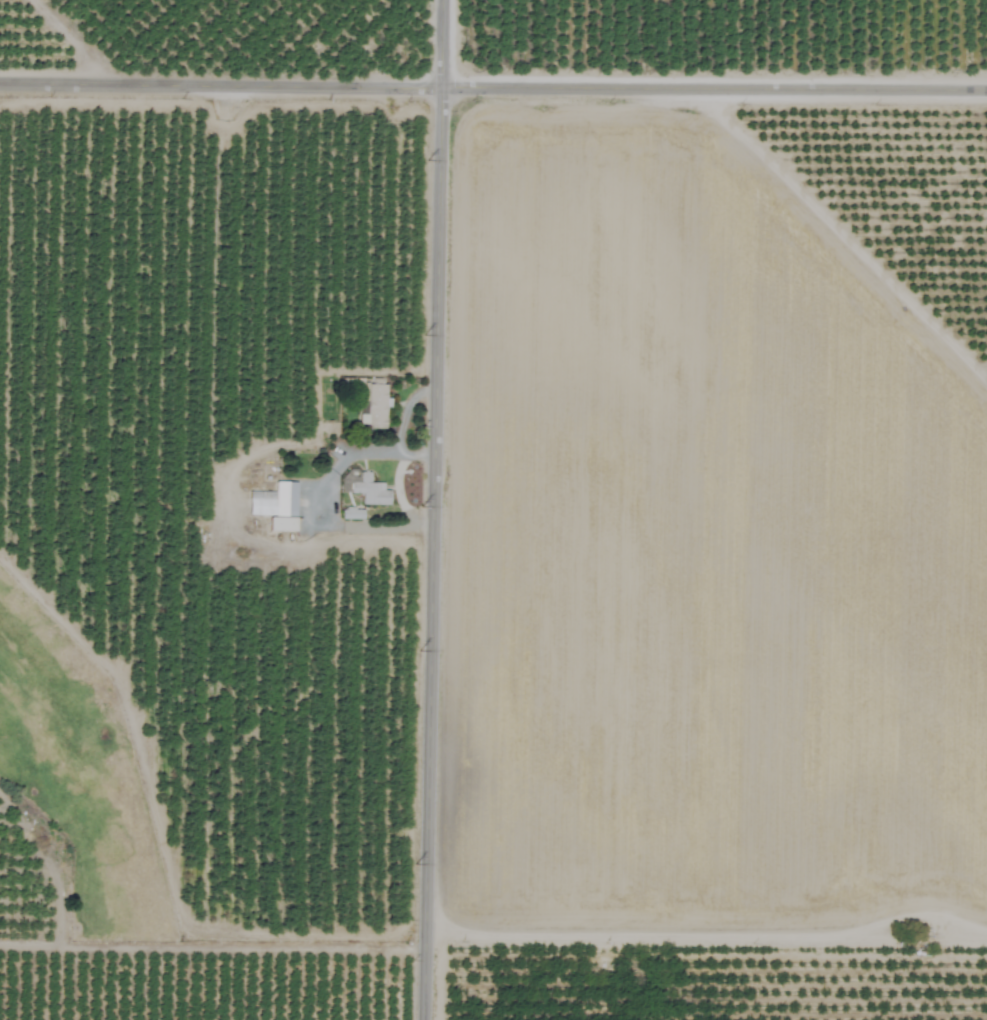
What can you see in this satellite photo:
road: (493, 85)
building: (371, 404)
building: (369, 491)
building: (275, 506)
road: (422, 509)
crop: (493, 510)
building: (351, 514)

